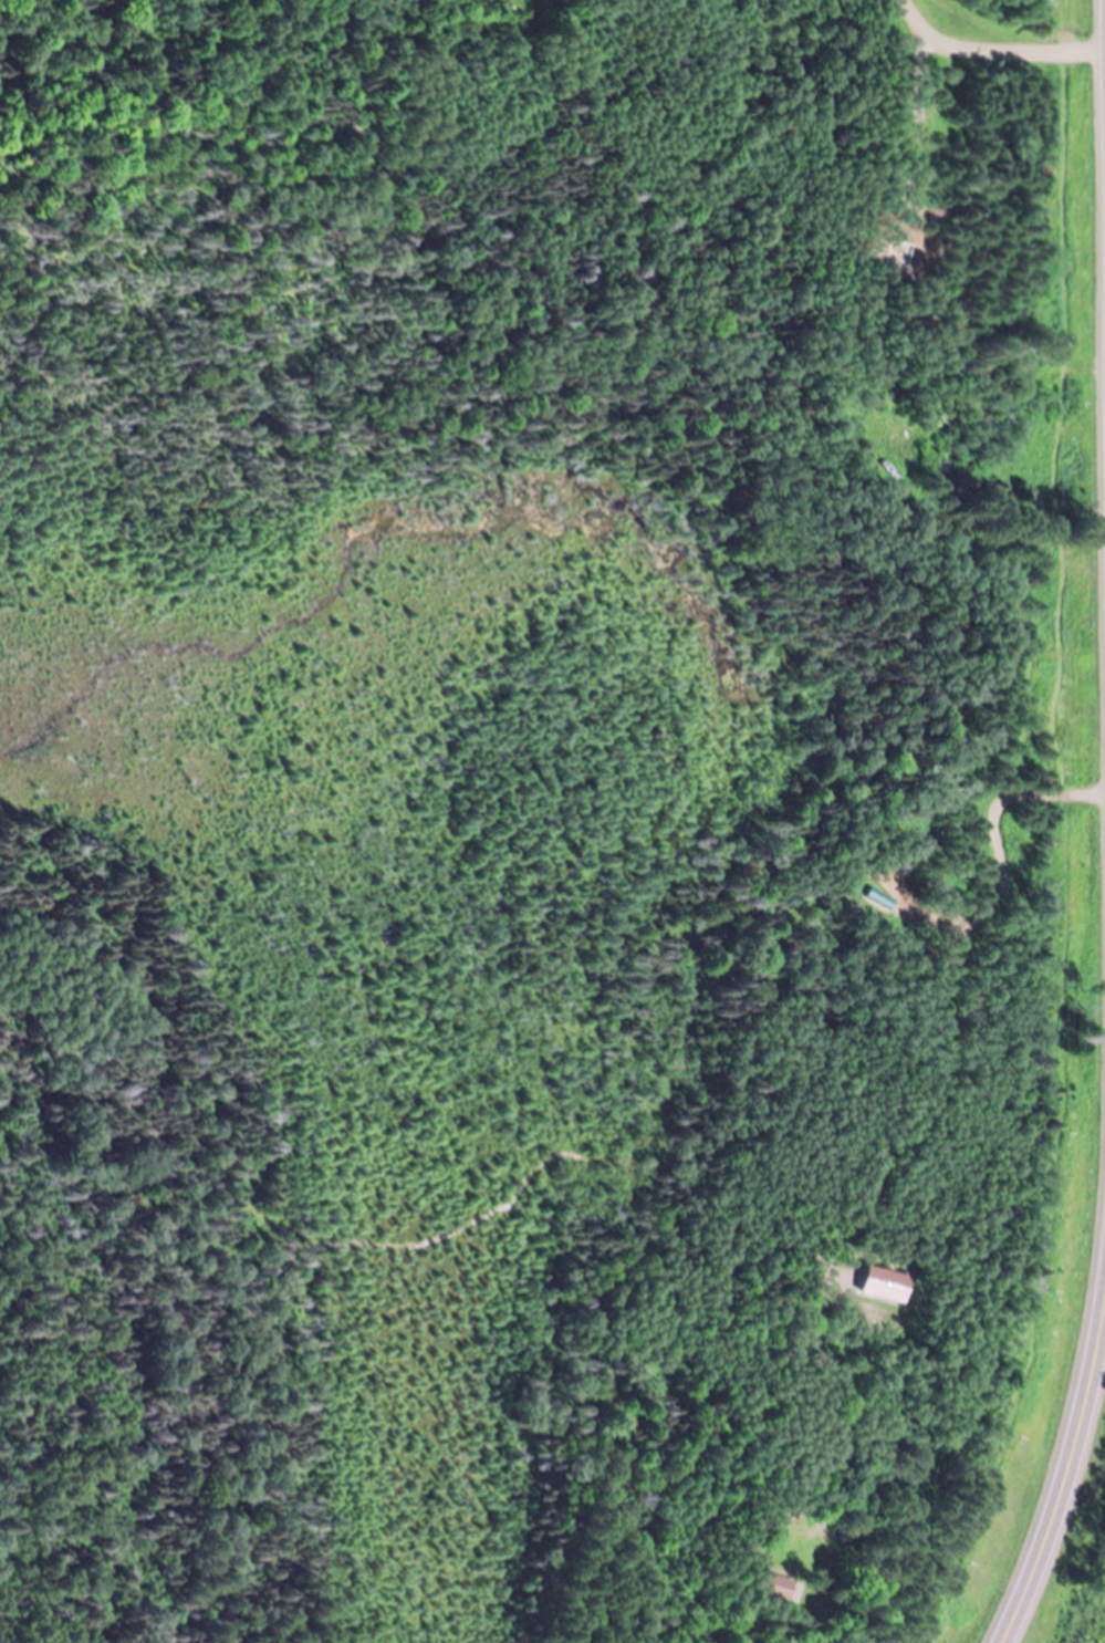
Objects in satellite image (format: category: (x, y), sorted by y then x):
road: (993, 49)
road: (1007, 395)
road: (914, 1111)
road: (1065, 1481)

